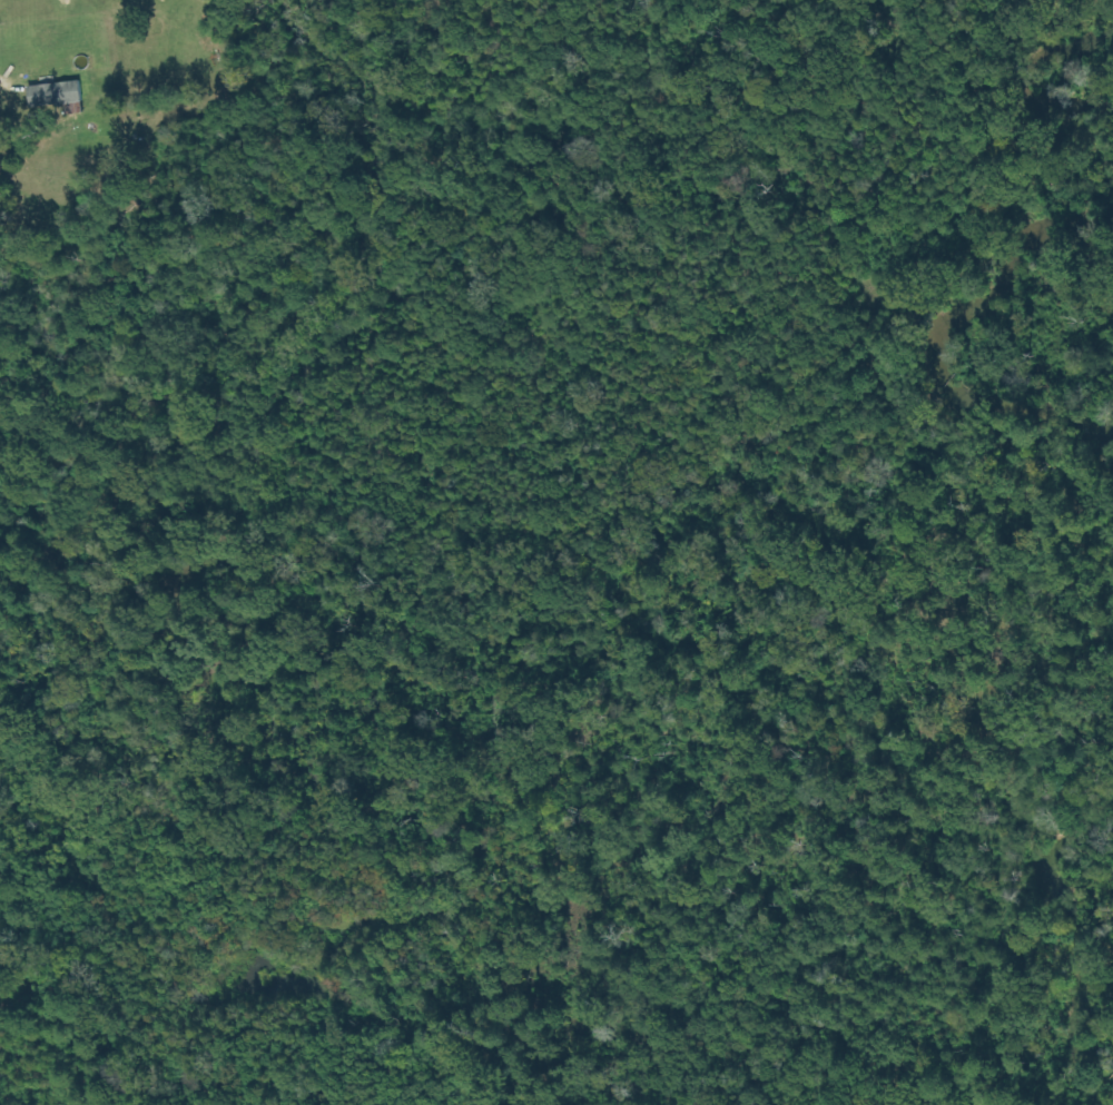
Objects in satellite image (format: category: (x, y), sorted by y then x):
building: (59, 95)

